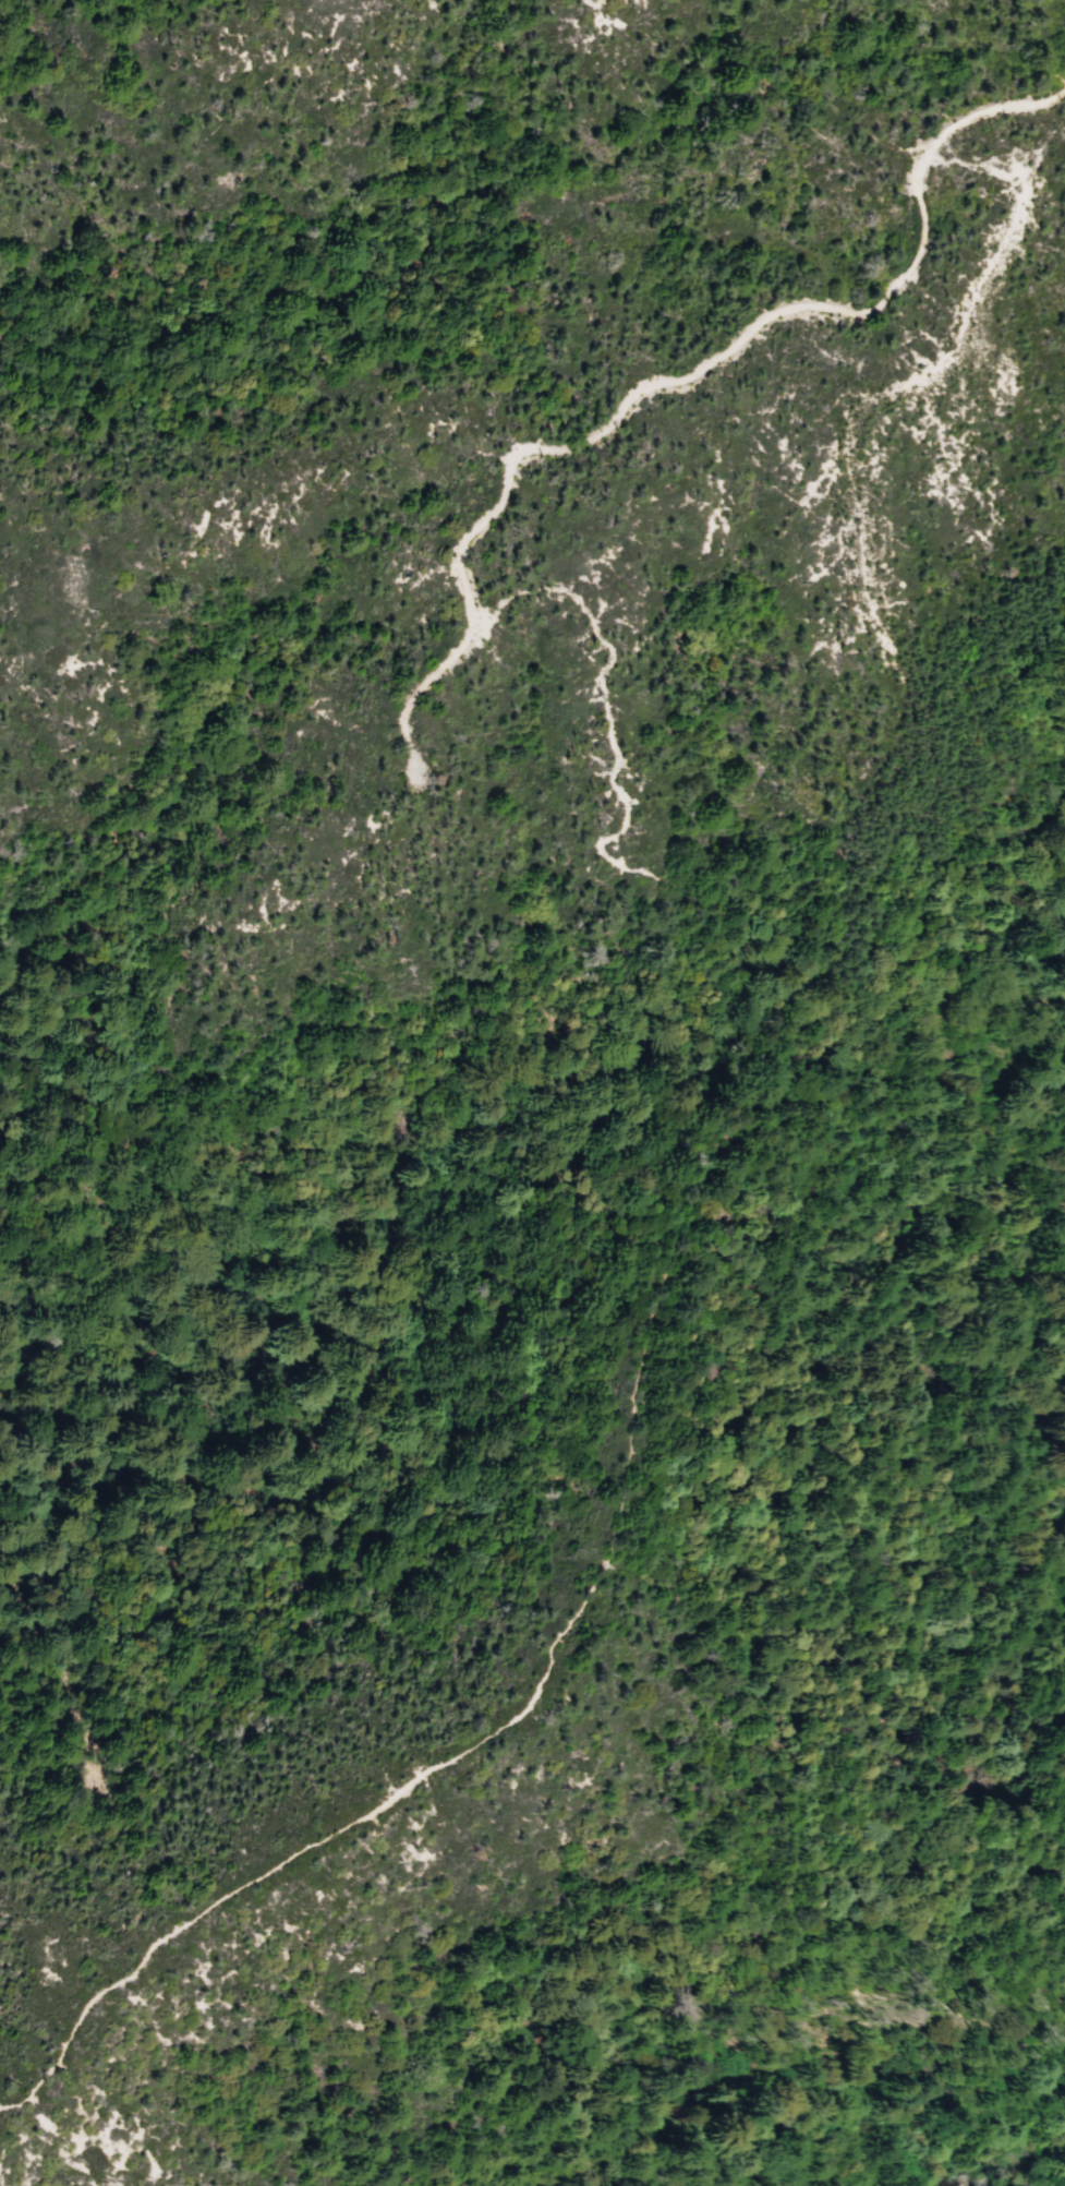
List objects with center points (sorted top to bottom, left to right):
road: (679, 382)
road: (657, 1298)

